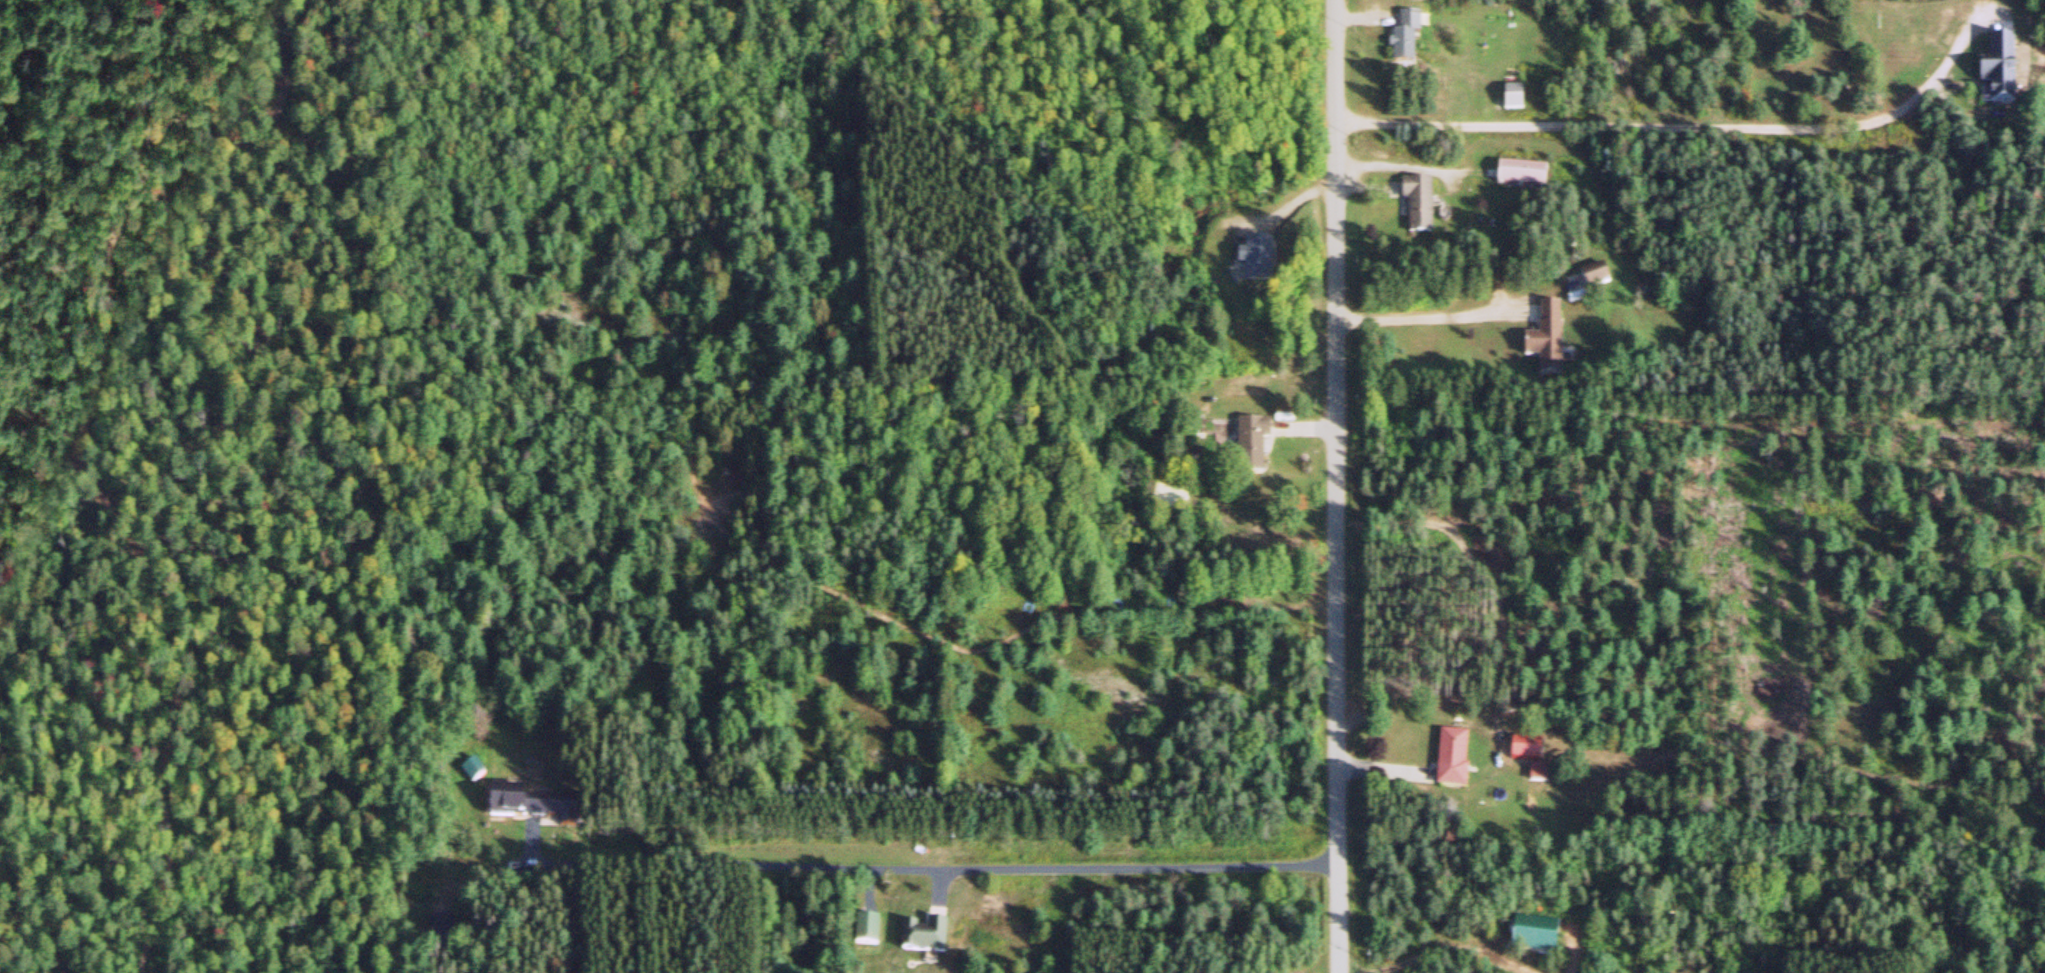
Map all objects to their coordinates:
building: (1411, 42)
building: (1993, 72)
road: (1698, 131)
building: (1527, 179)
building: (1424, 208)
building: (1257, 264)
building: (1590, 283)
building: (1554, 344)
building: (1255, 446)
road: (85, 458)
road: (1337, 486)
road: (1000, 643)
building: (1528, 751)
building: (1455, 761)
building: (1542, 774)
building: (537, 805)
road: (923, 872)
building: (870, 931)
building: (929, 937)

